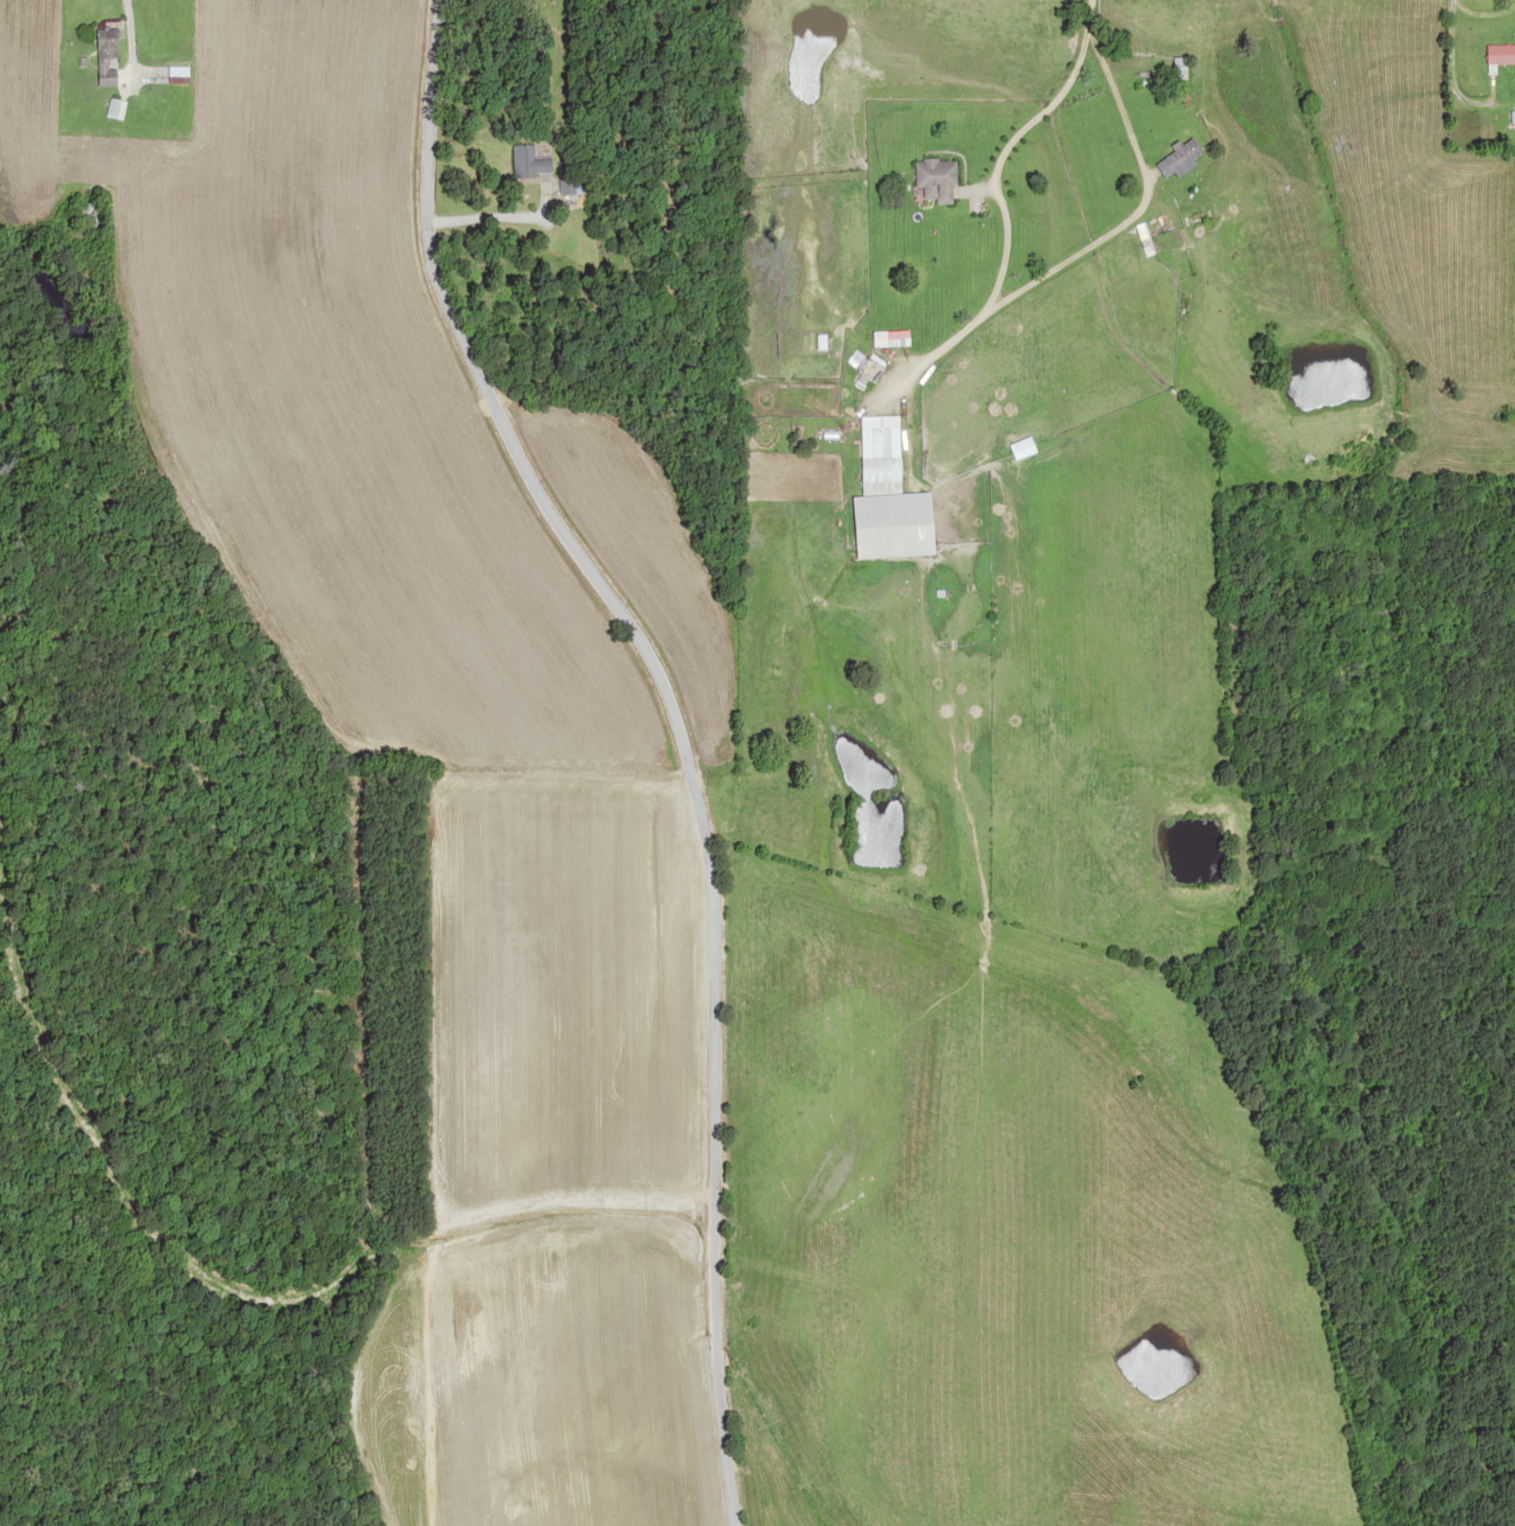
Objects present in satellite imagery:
building: (1499, 54)
building: (104, 56)
building: (1172, 69)
building: (177, 75)
building: (1171, 160)
building: (528, 163)
building: (930, 181)
building: (885, 339)
building: (1016, 447)
building: (880, 497)
road: (685, 735)

